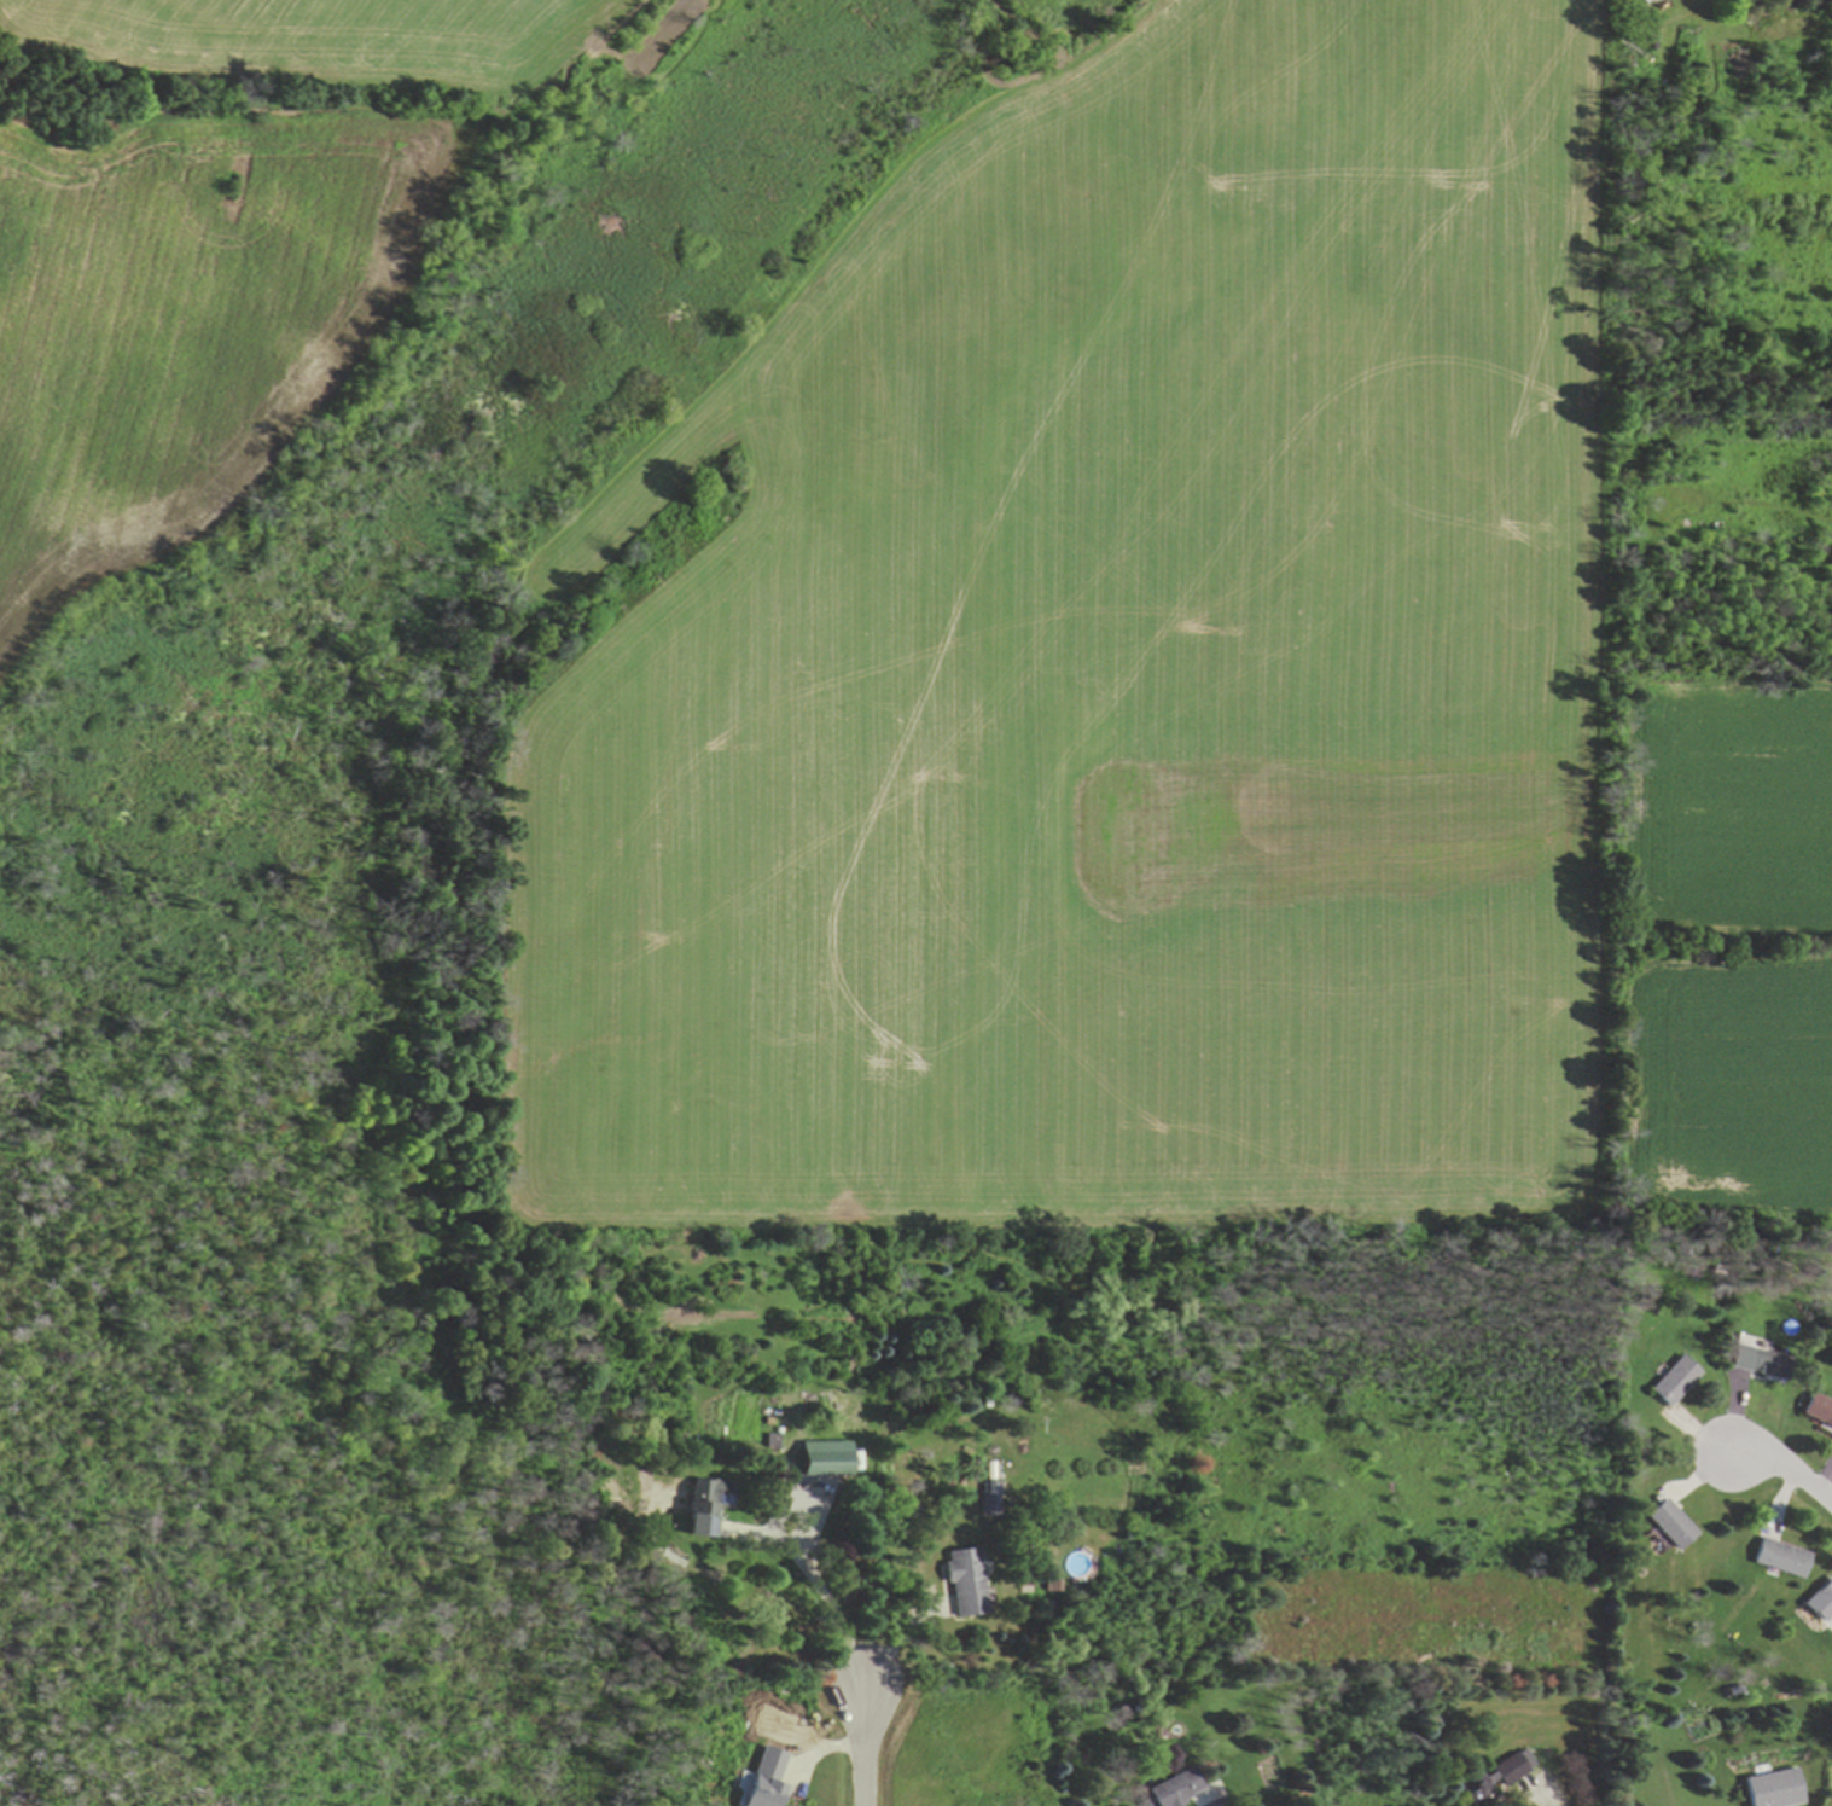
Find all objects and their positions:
building: (1640, 0)
building: (1762, 1364)
building: (1675, 1382)
building: (1819, 1411)
building: (824, 1461)
road: (1787, 1469)
building: (704, 1506)
building: (1670, 1526)
building: (1781, 1560)
building: (964, 1584)
building: (1828, 1603)
building: (1169, 1732)
road: (863, 1742)
building: (1512, 1770)
building: (764, 1779)
building: (1479, 1788)
building: (1773, 1789)
building: (1171, 1790)

